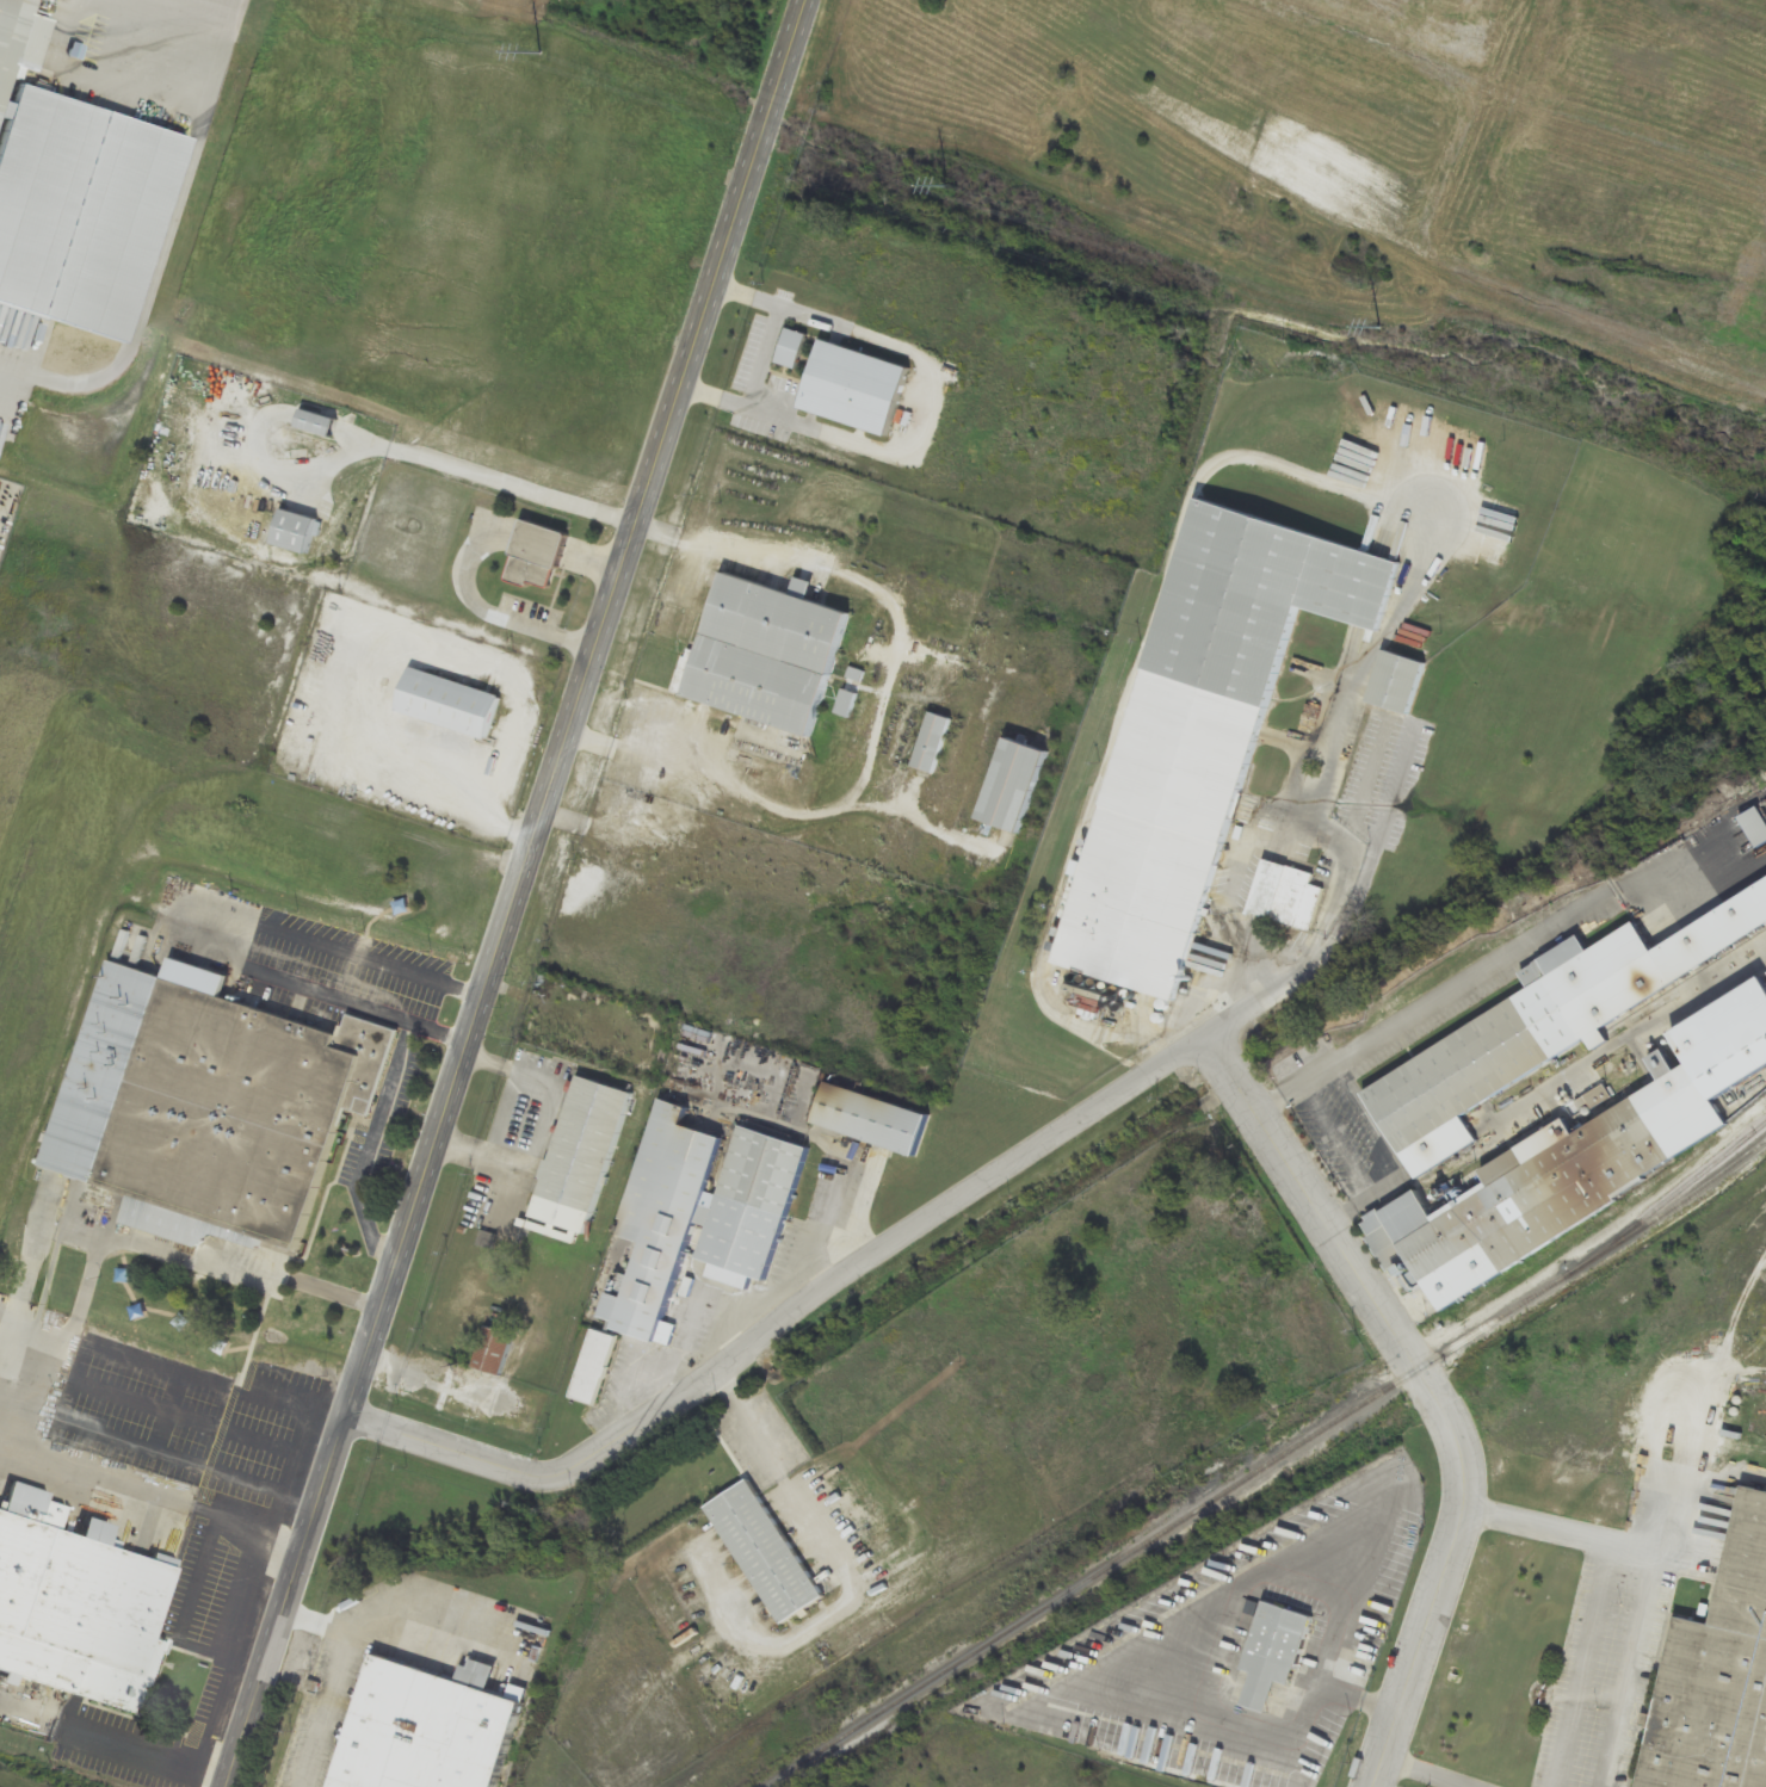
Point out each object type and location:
power tower: (542, 51)
power tower: (949, 185)
building: (72, 196)
road: (158, 241)
power tower: (1382, 327)
road: (760, 355)
road: (926, 414)
building: (316, 422)
building: (295, 531)
building: (536, 556)
road: (544, 632)
building: (765, 654)
road: (890, 675)
building: (1395, 684)
building: (447, 703)
building: (845, 703)
building: (1200, 734)
building: (931, 743)
road: (650, 762)
building: (1011, 786)
road: (462, 787)
road: (573, 822)
building: (1754, 826)
road: (517, 892)
building: (1286, 896)
road: (255, 925)
road: (1247, 940)
road: (1296, 954)
road: (1242, 1004)
road: (1444, 1015)
road: (440, 1033)
building: (1511, 1046)
building: (210, 1107)
road: (547, 1111)
road: (369, 1146)
building: (580, 1154)
road: (482, 1157)
building: (762, 1170)
road: (1363, 1170)
railway: (1682, 1188)
building: (1544, 1189)
building: (660, 1223)
road: (829, 1245)
road: (89, 1262)
road: (334, 1293)
road: (799, 1324)
building: (493, 1350)
building: (593, 1366)
road: (1432, 1400)
railway: (1271, 1466)
road: (154, 1494)
road: (1657, 1533)
building: (764, 1551)
road: (850, 1573)
road: (1605, 1584)
building: (75, 1610)
road: (430, 1615)
road: (1360, 1650)
building: (1272, 1651)
road: (1624, 1670)
building: (1716, 1676)
road: (332, 1678)
building: (425, 1727)
road: (115, 1742)
road: (1422, 1773)

